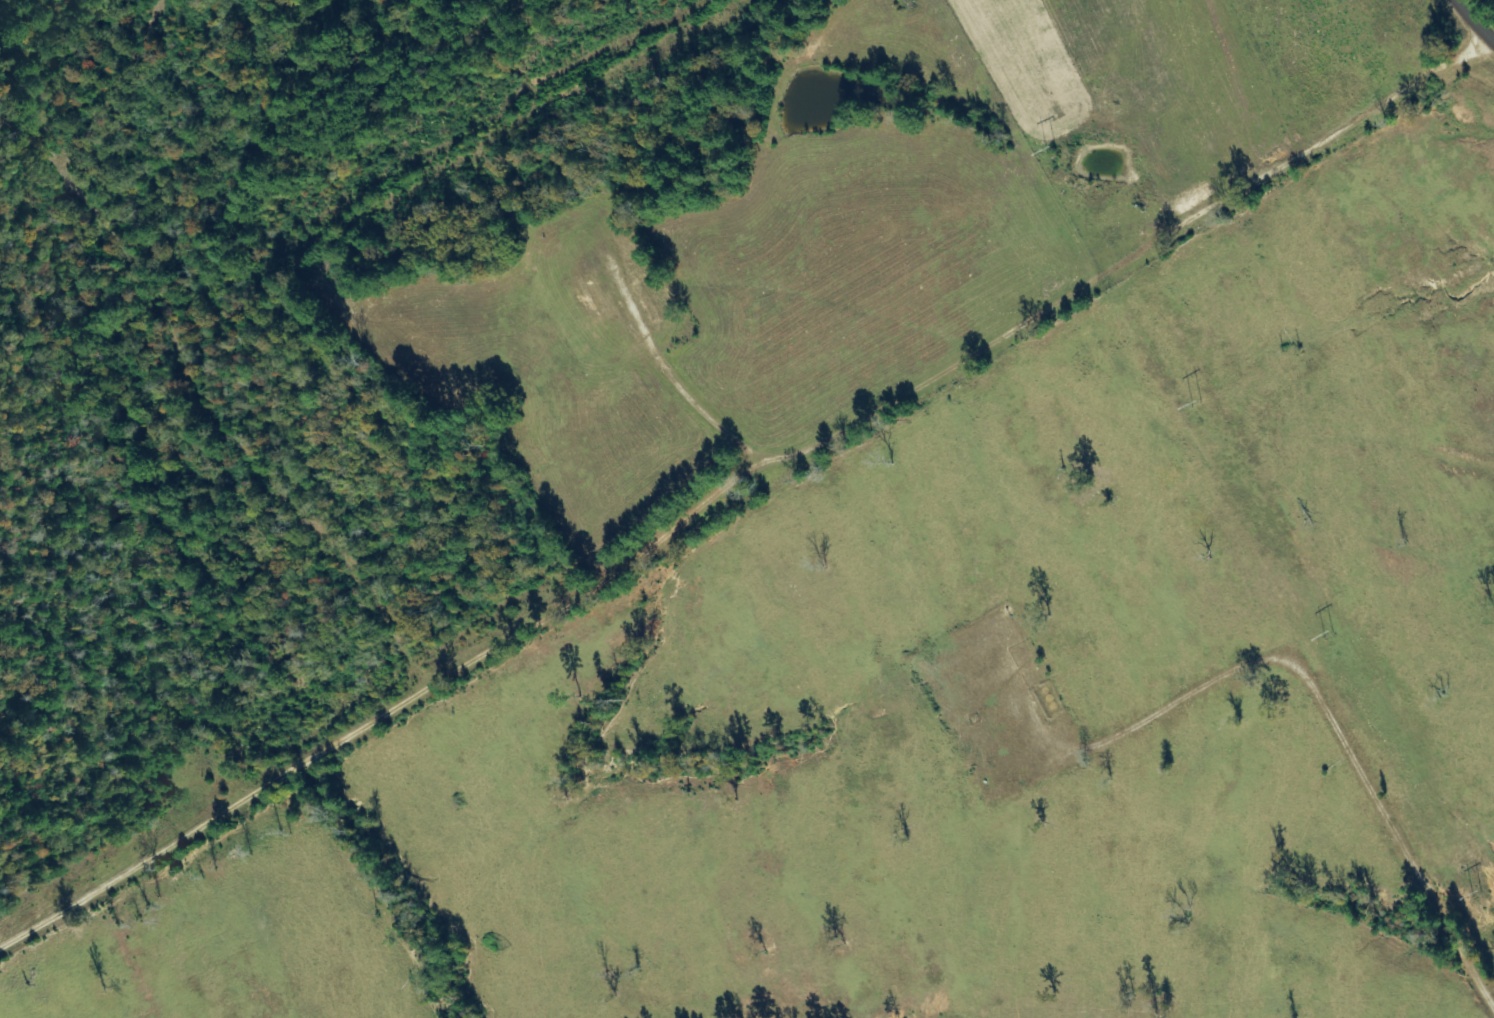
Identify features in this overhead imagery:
road: (1453, 38)
power tower: (1052, 150)
power tower: (1195, 403)
power tower: (1330, 634)
power tower: (1479, 895)

